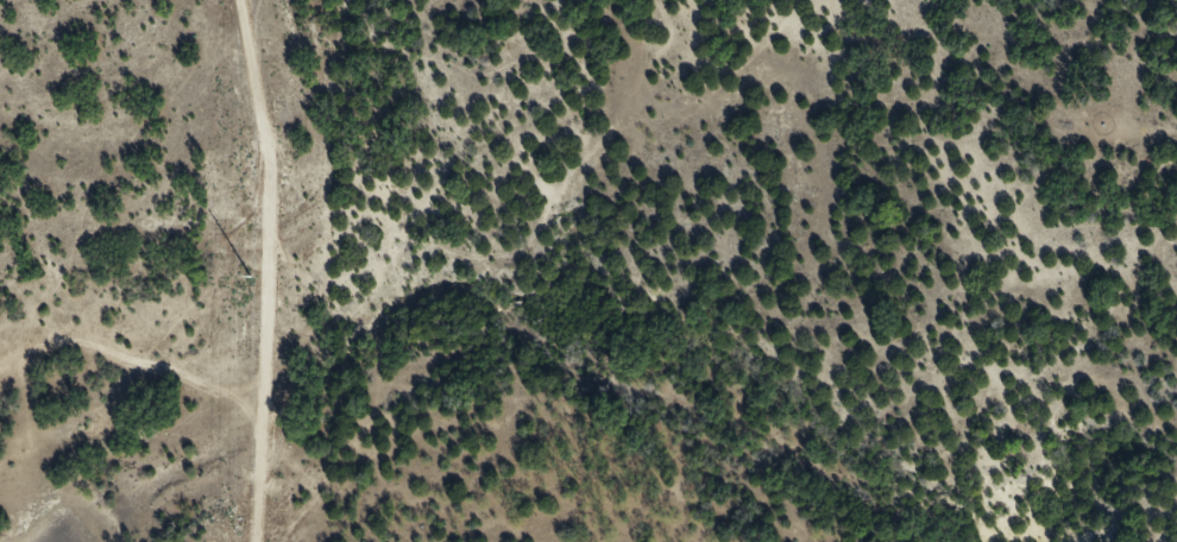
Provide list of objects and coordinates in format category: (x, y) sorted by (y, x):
road: (117, 218)
road: (266, 269)
power tower: (252, 275)

